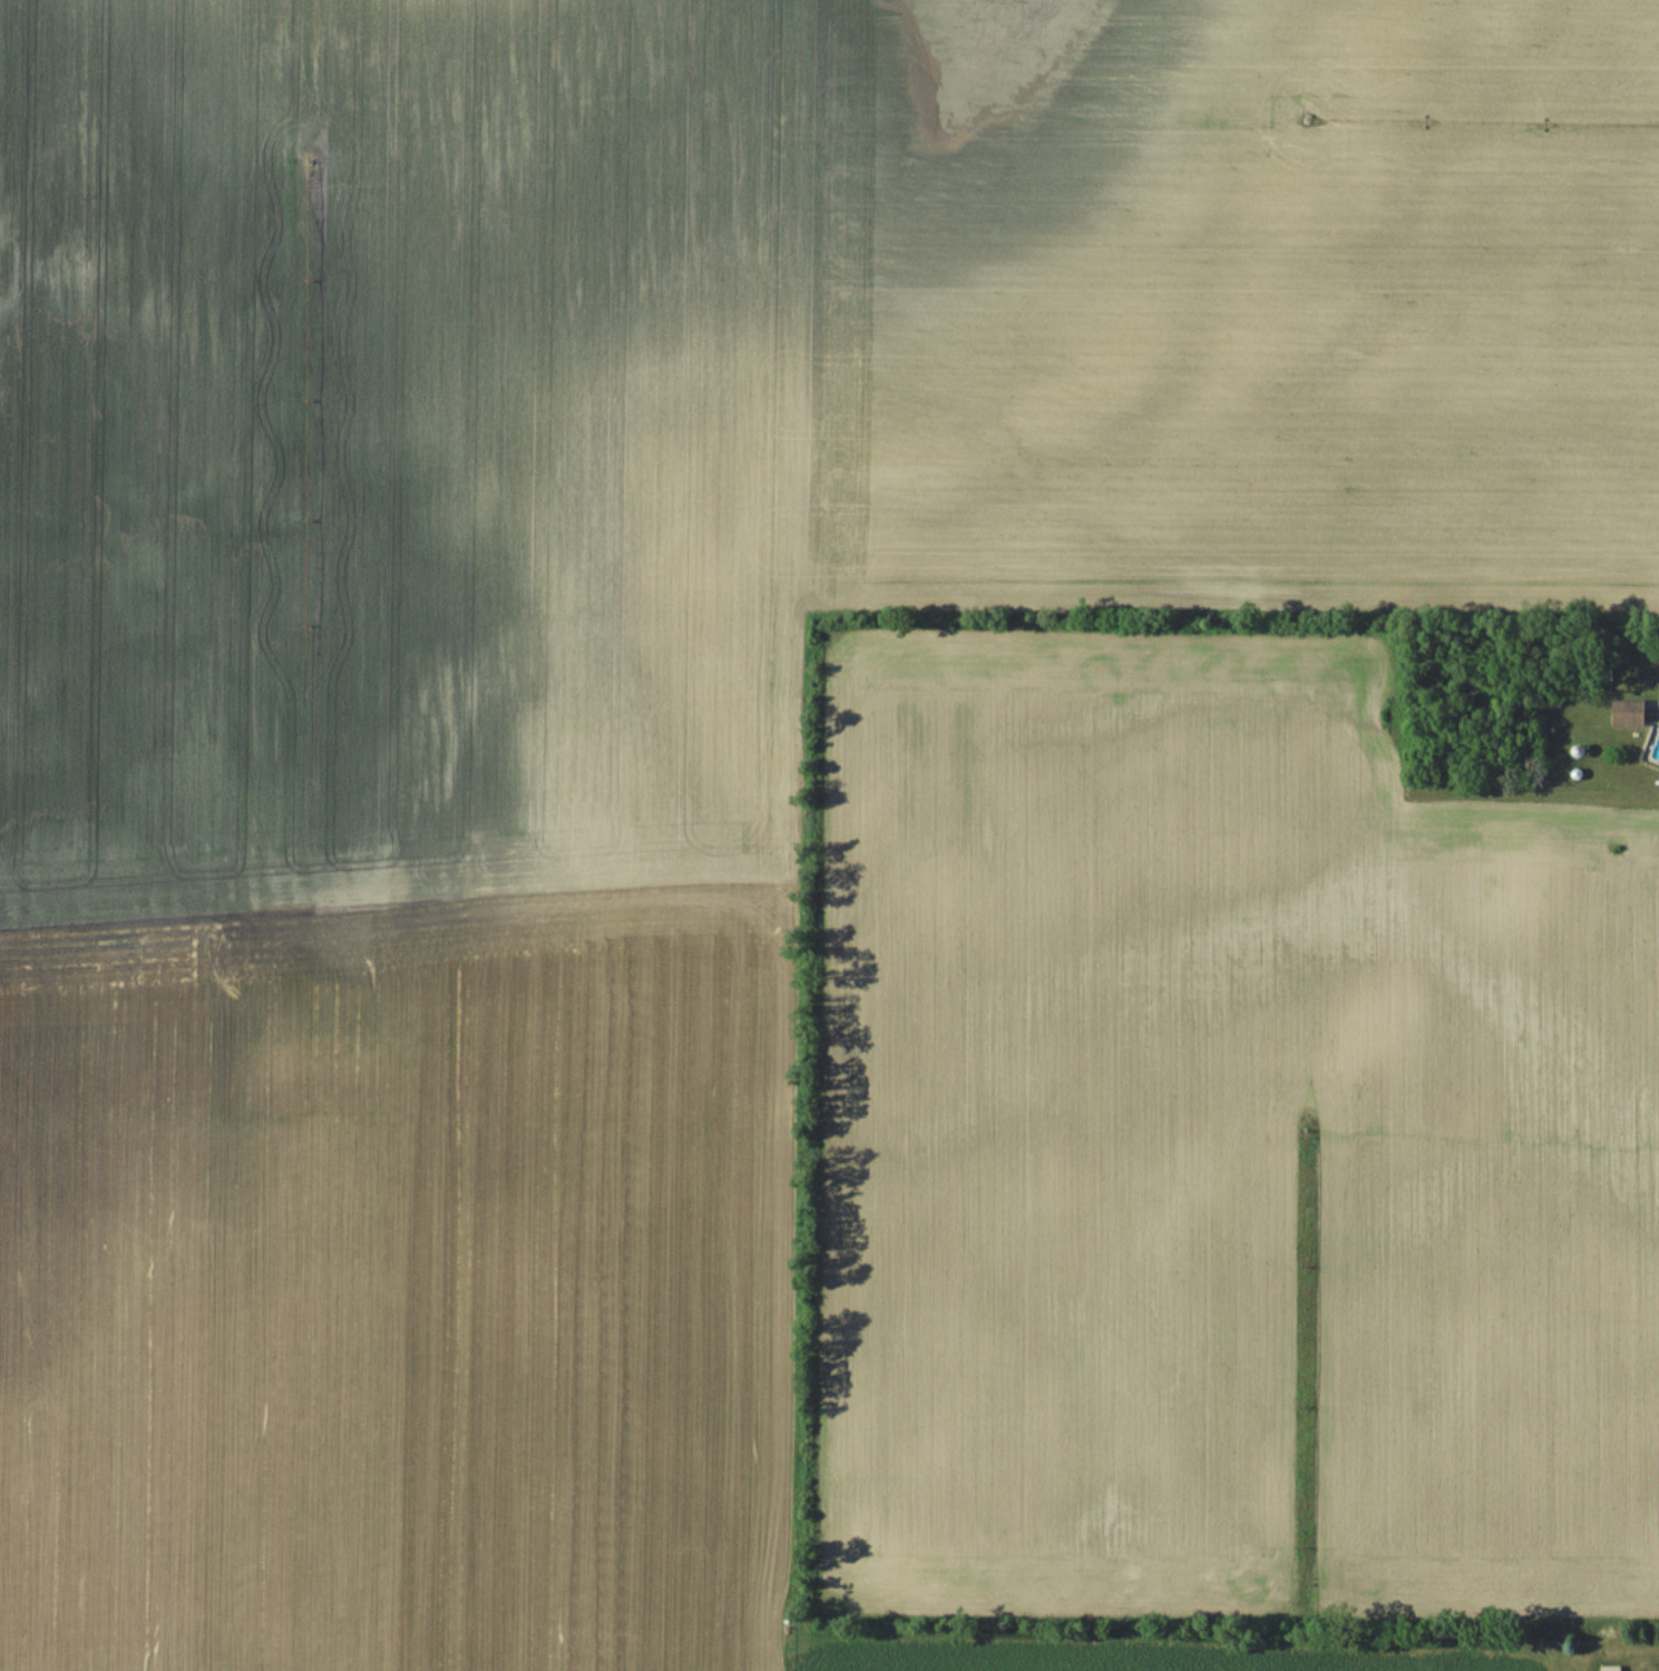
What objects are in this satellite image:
building: (1629, 713)
building: (1610, 1668)

